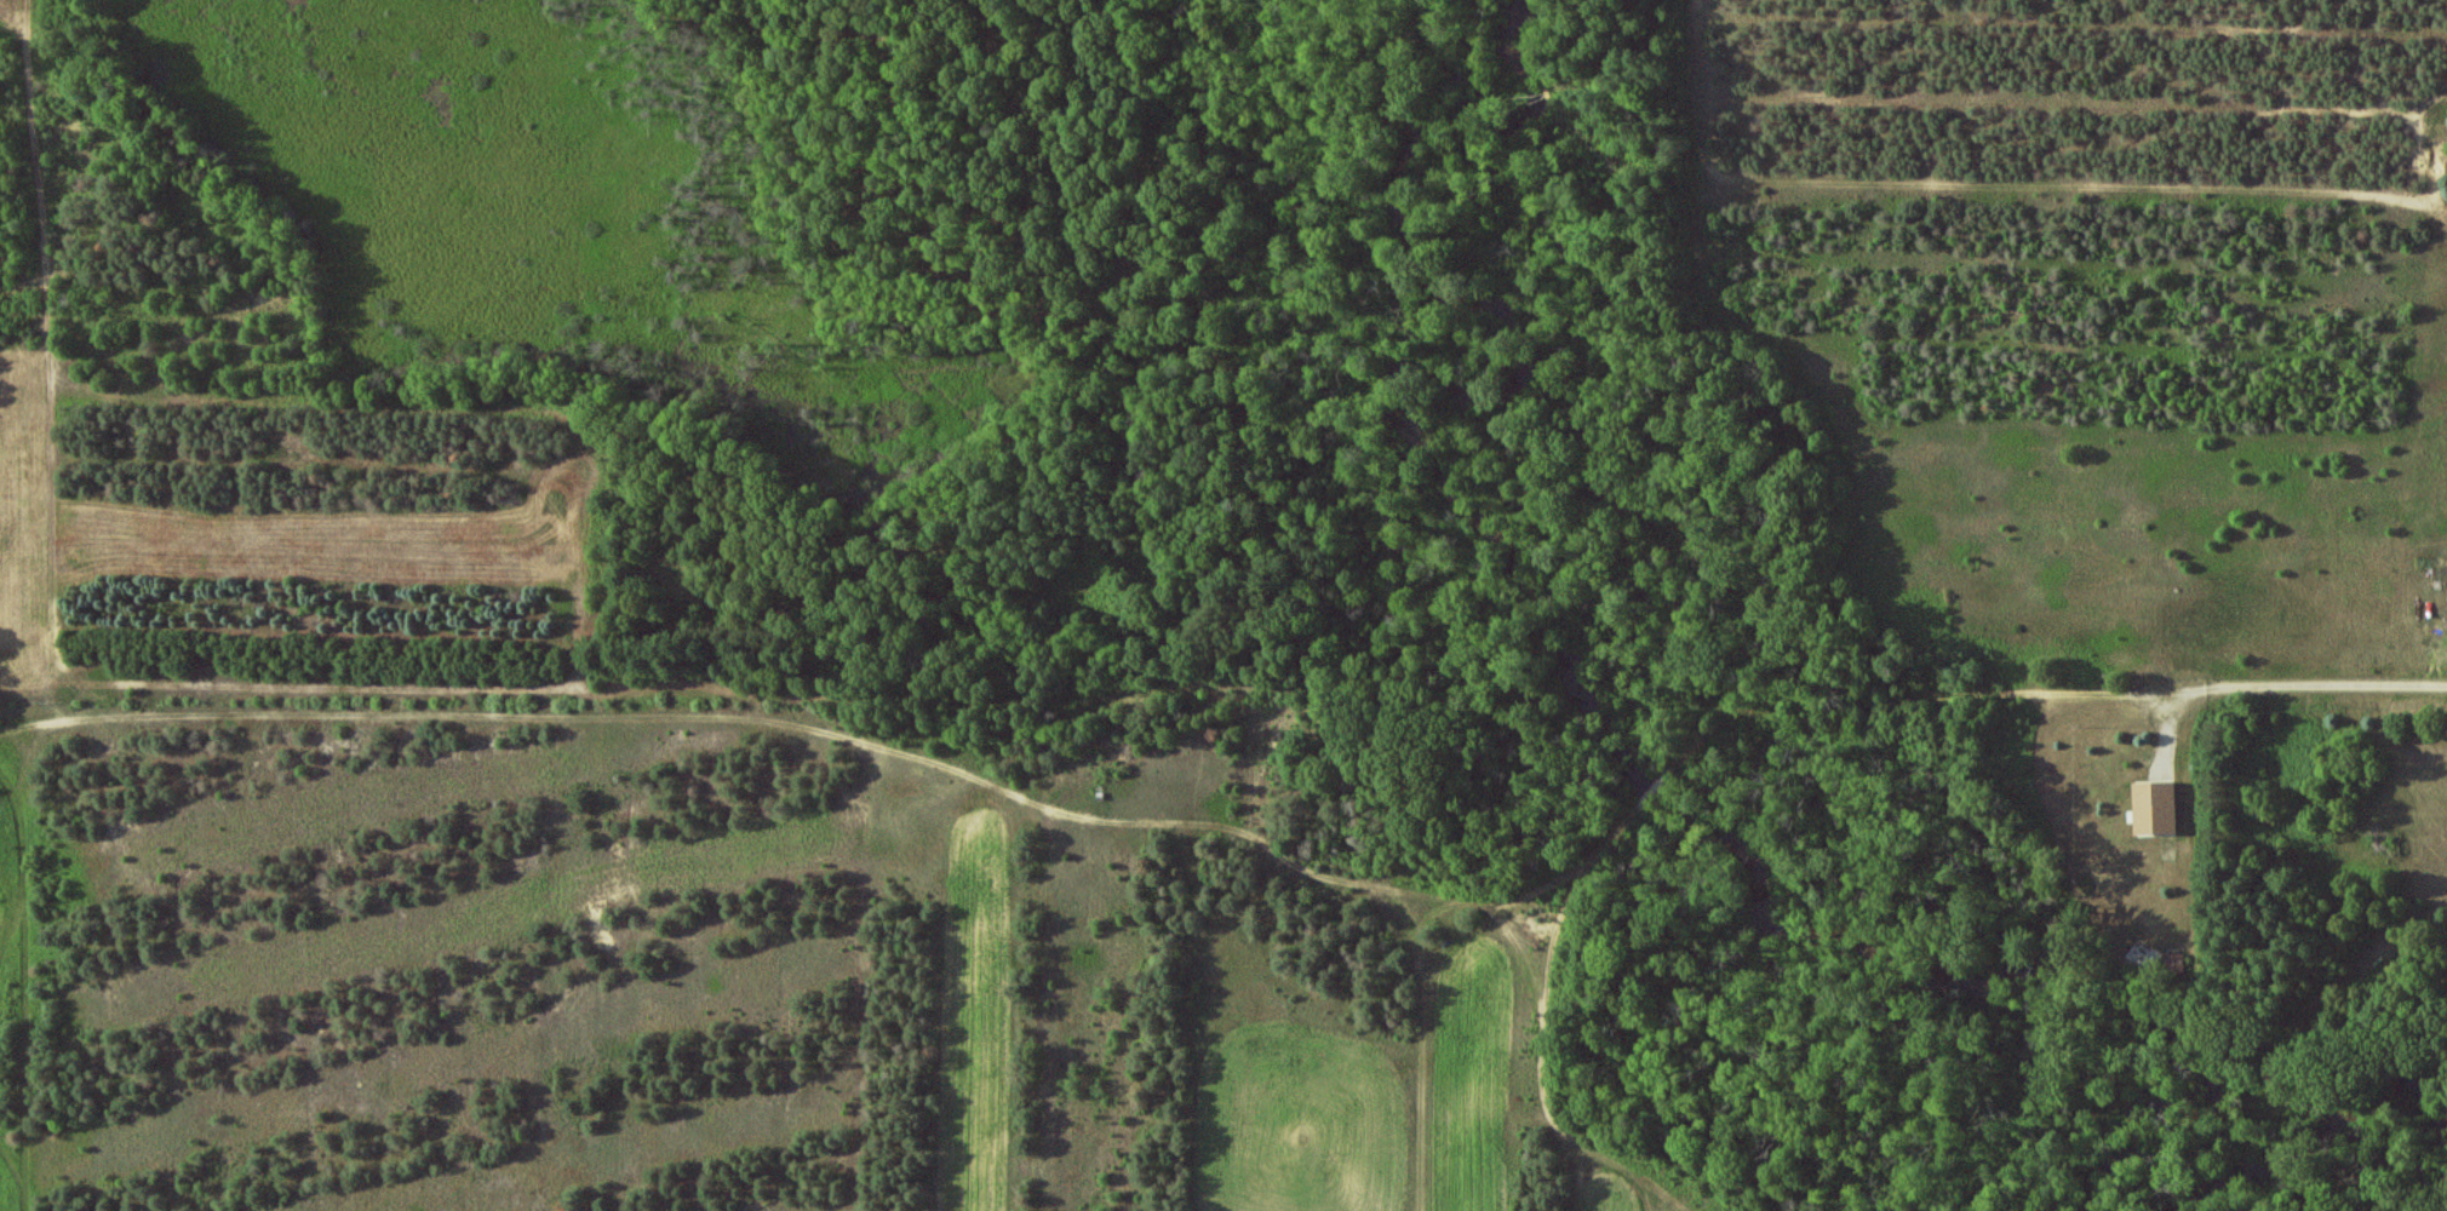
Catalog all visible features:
road: (51, 366)
building: (2156, 808)
road: (1261, 823)
building: (2177, 964)
road: (1542, 1078)

